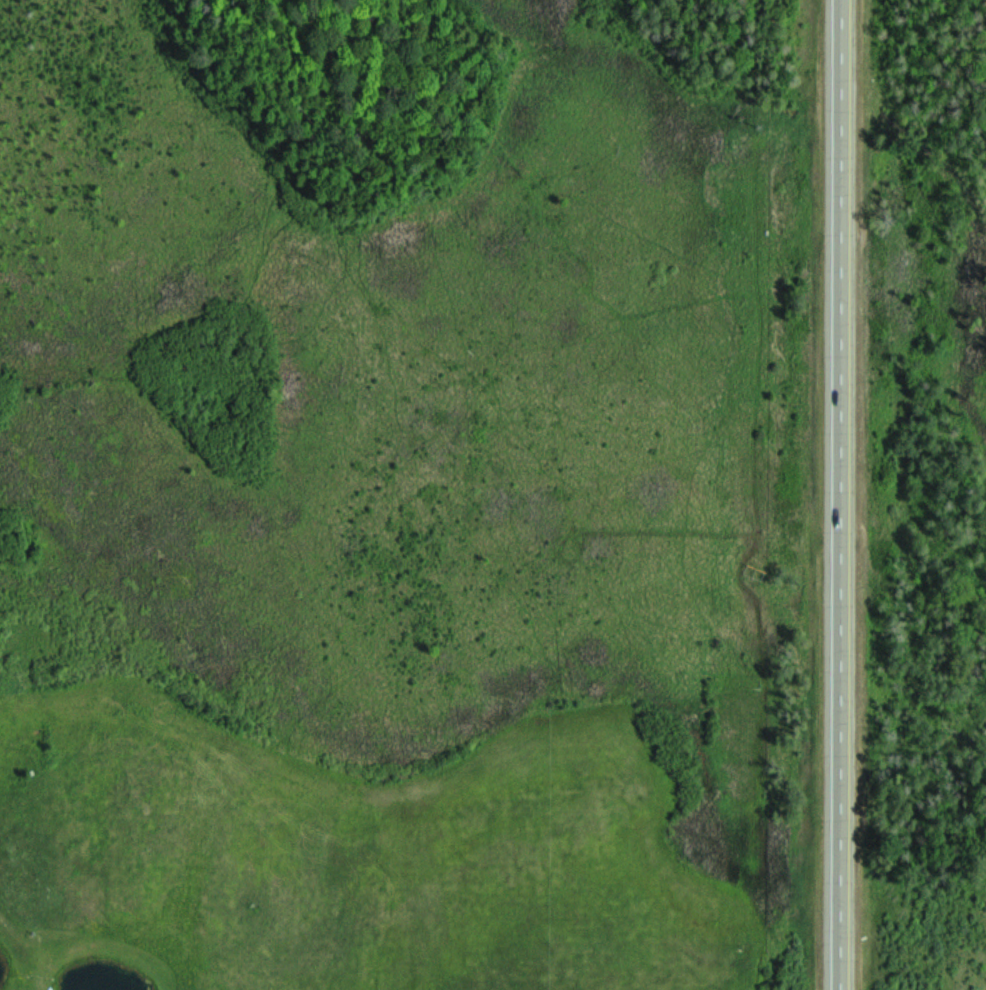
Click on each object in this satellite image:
road: (841, 495)

